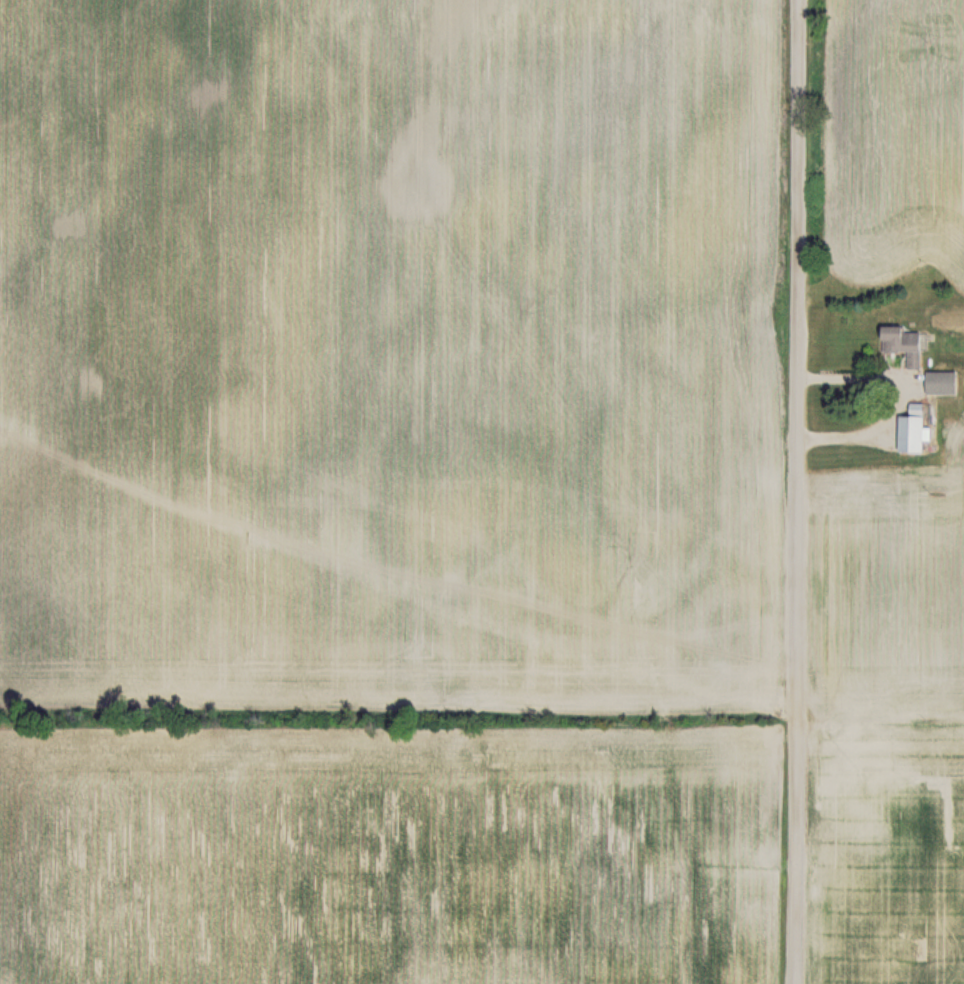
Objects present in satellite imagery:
building: (899, 344)
building: (939, 382)
road: (904, 394)
building: (907, 433)
road: (799, 492)

